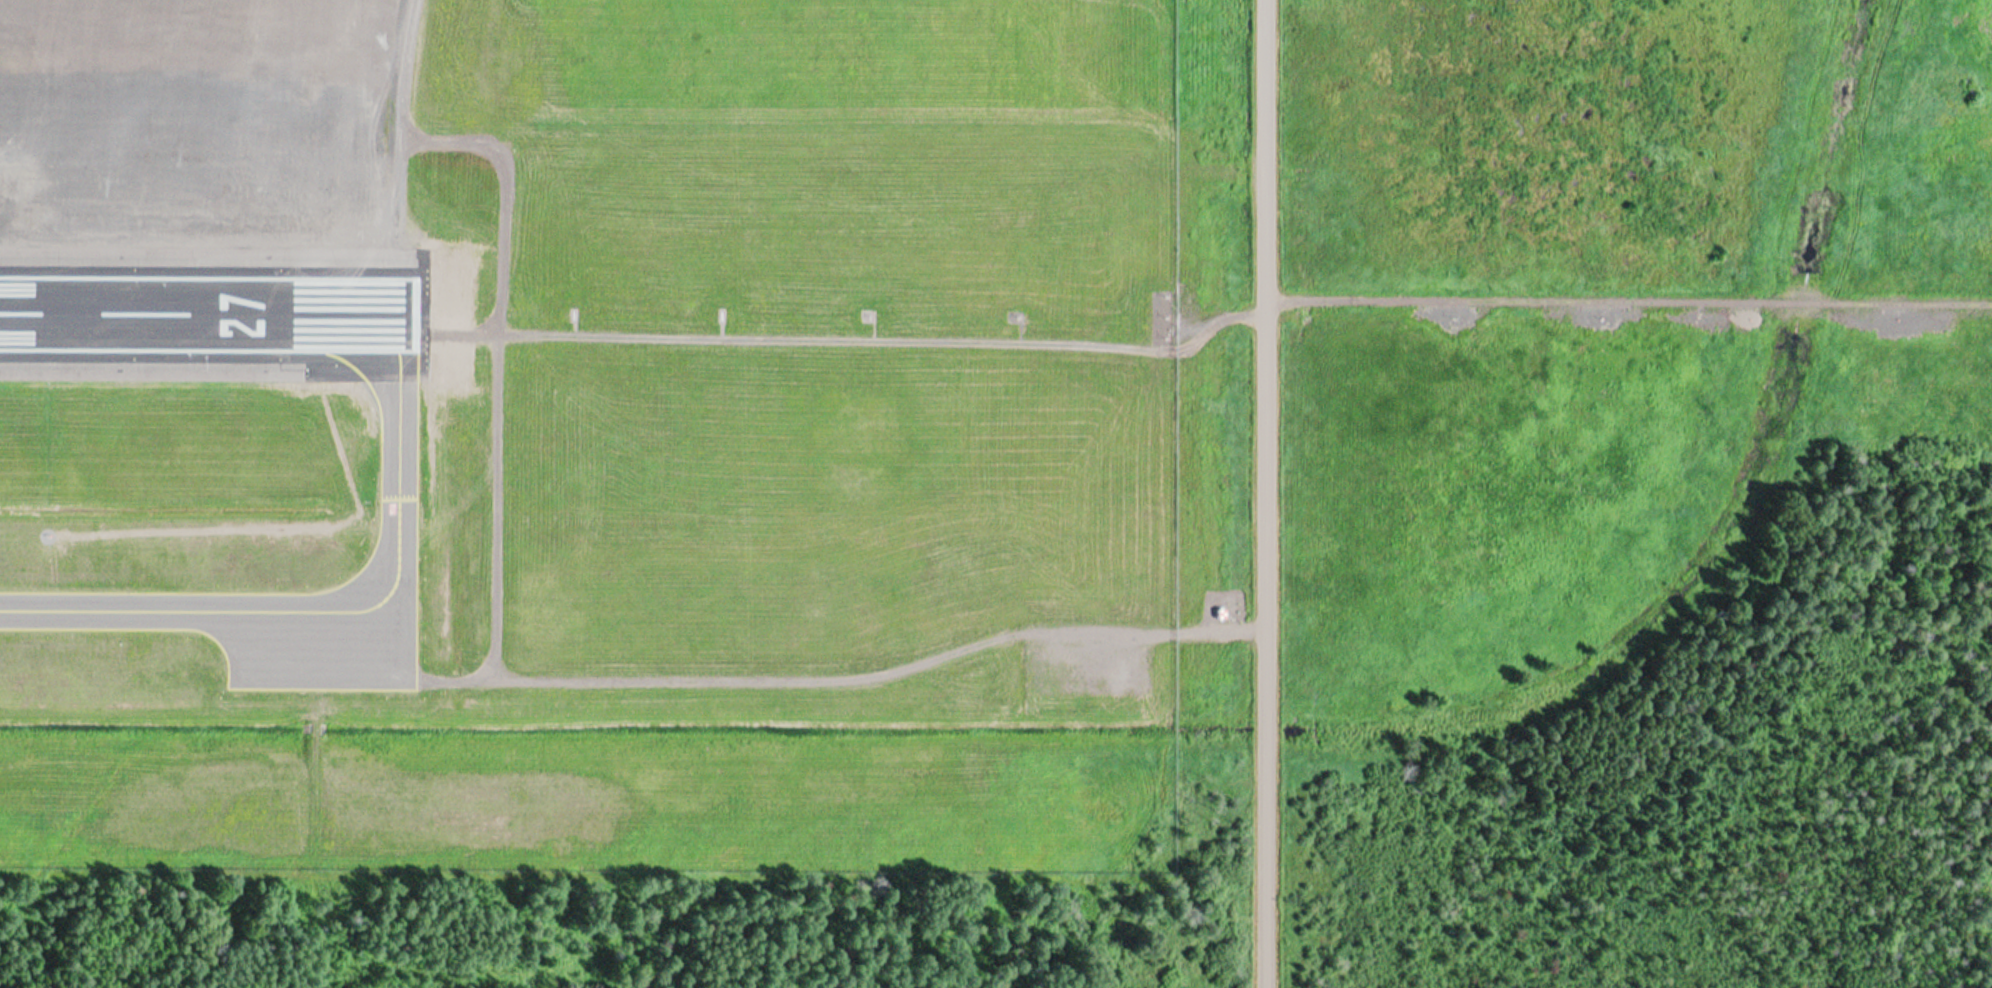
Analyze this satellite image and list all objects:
airport runway: (204, 310)
airport: (586, 433)
road: (1280, 488)
airport taxiway: (334, 603)
road: (1315, 987)

